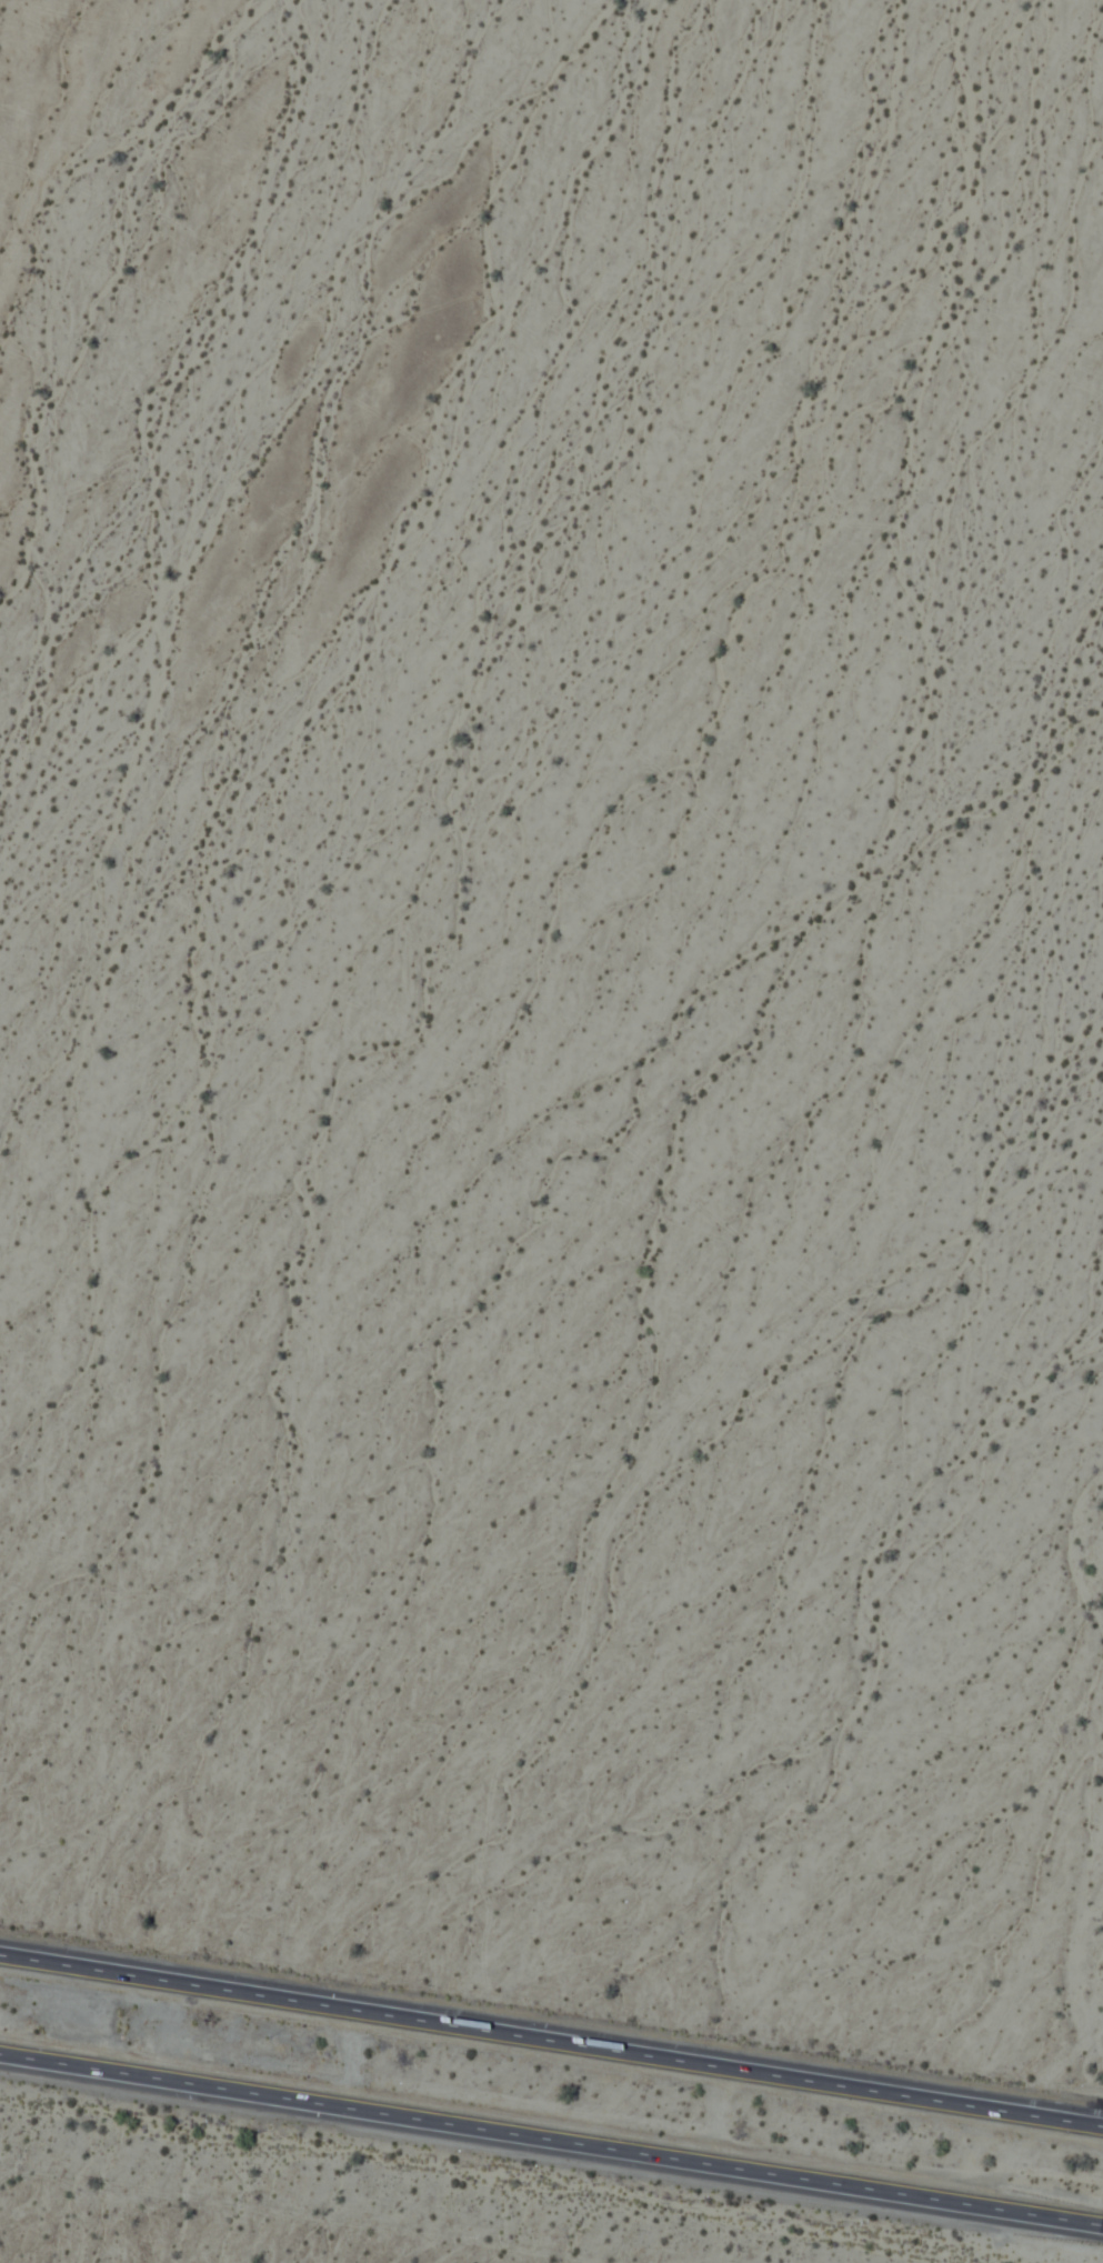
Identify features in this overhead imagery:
road: (551, 2034)
road: (551, 2144)

